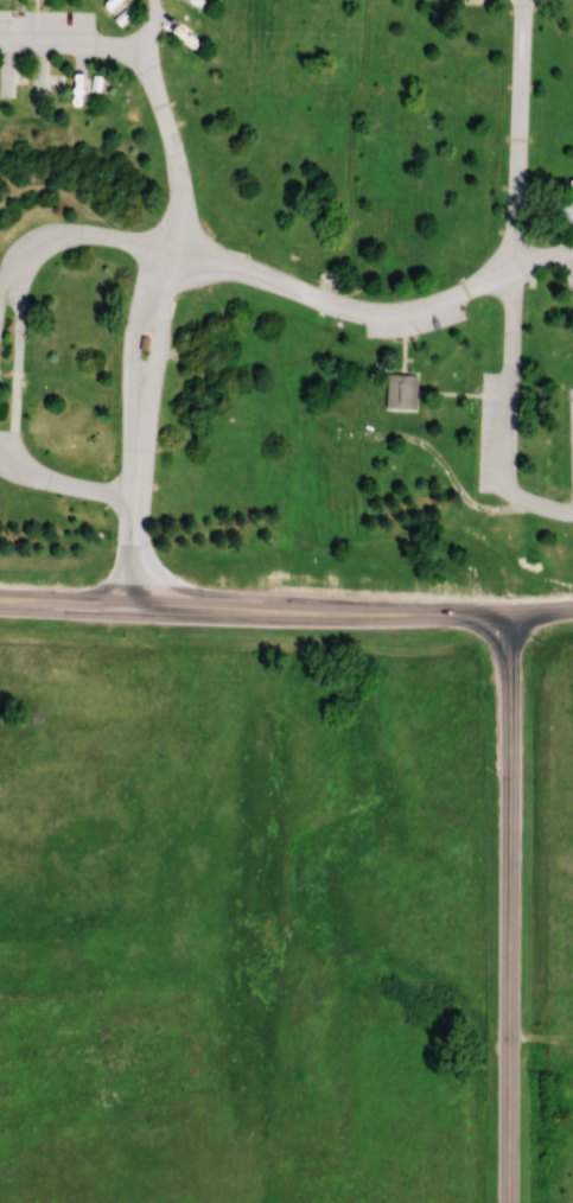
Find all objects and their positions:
road: (148, 25)
road: (69, 46)
road: (20, 186)
road: (96, 212)
road: (81, 233)
road: (510, 279)
road: (5, 284)
park: (287, 303)
road: (373, 311)
road: (147, 322)
road: (14, 367)
building: (400, 392)
parking lot: (494, 432)
parking lot: (569, 448)
road: (459, 469)
road: (62, 484)
road: (286, 610)
road: (510, 906)

